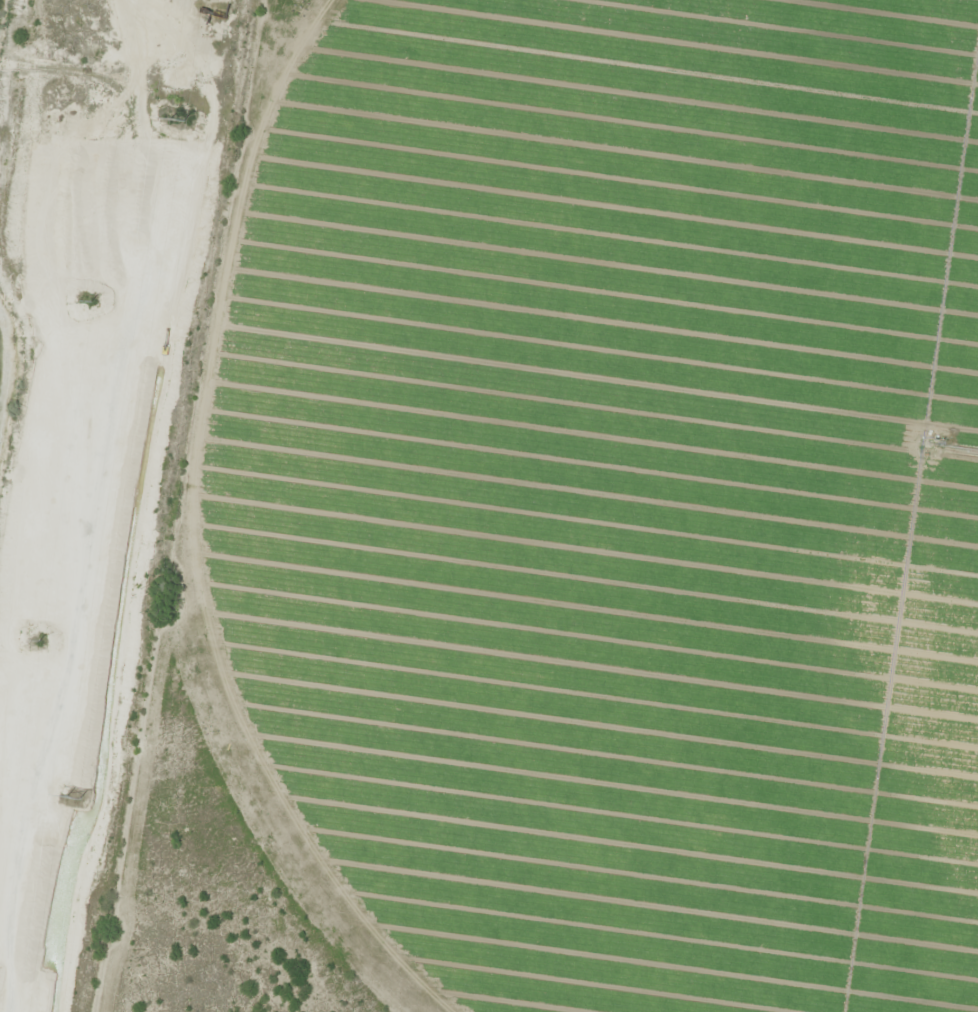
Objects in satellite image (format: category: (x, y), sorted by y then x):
power tower: (176, 120)
road: (162, 506)
power tower: (72, 796)

